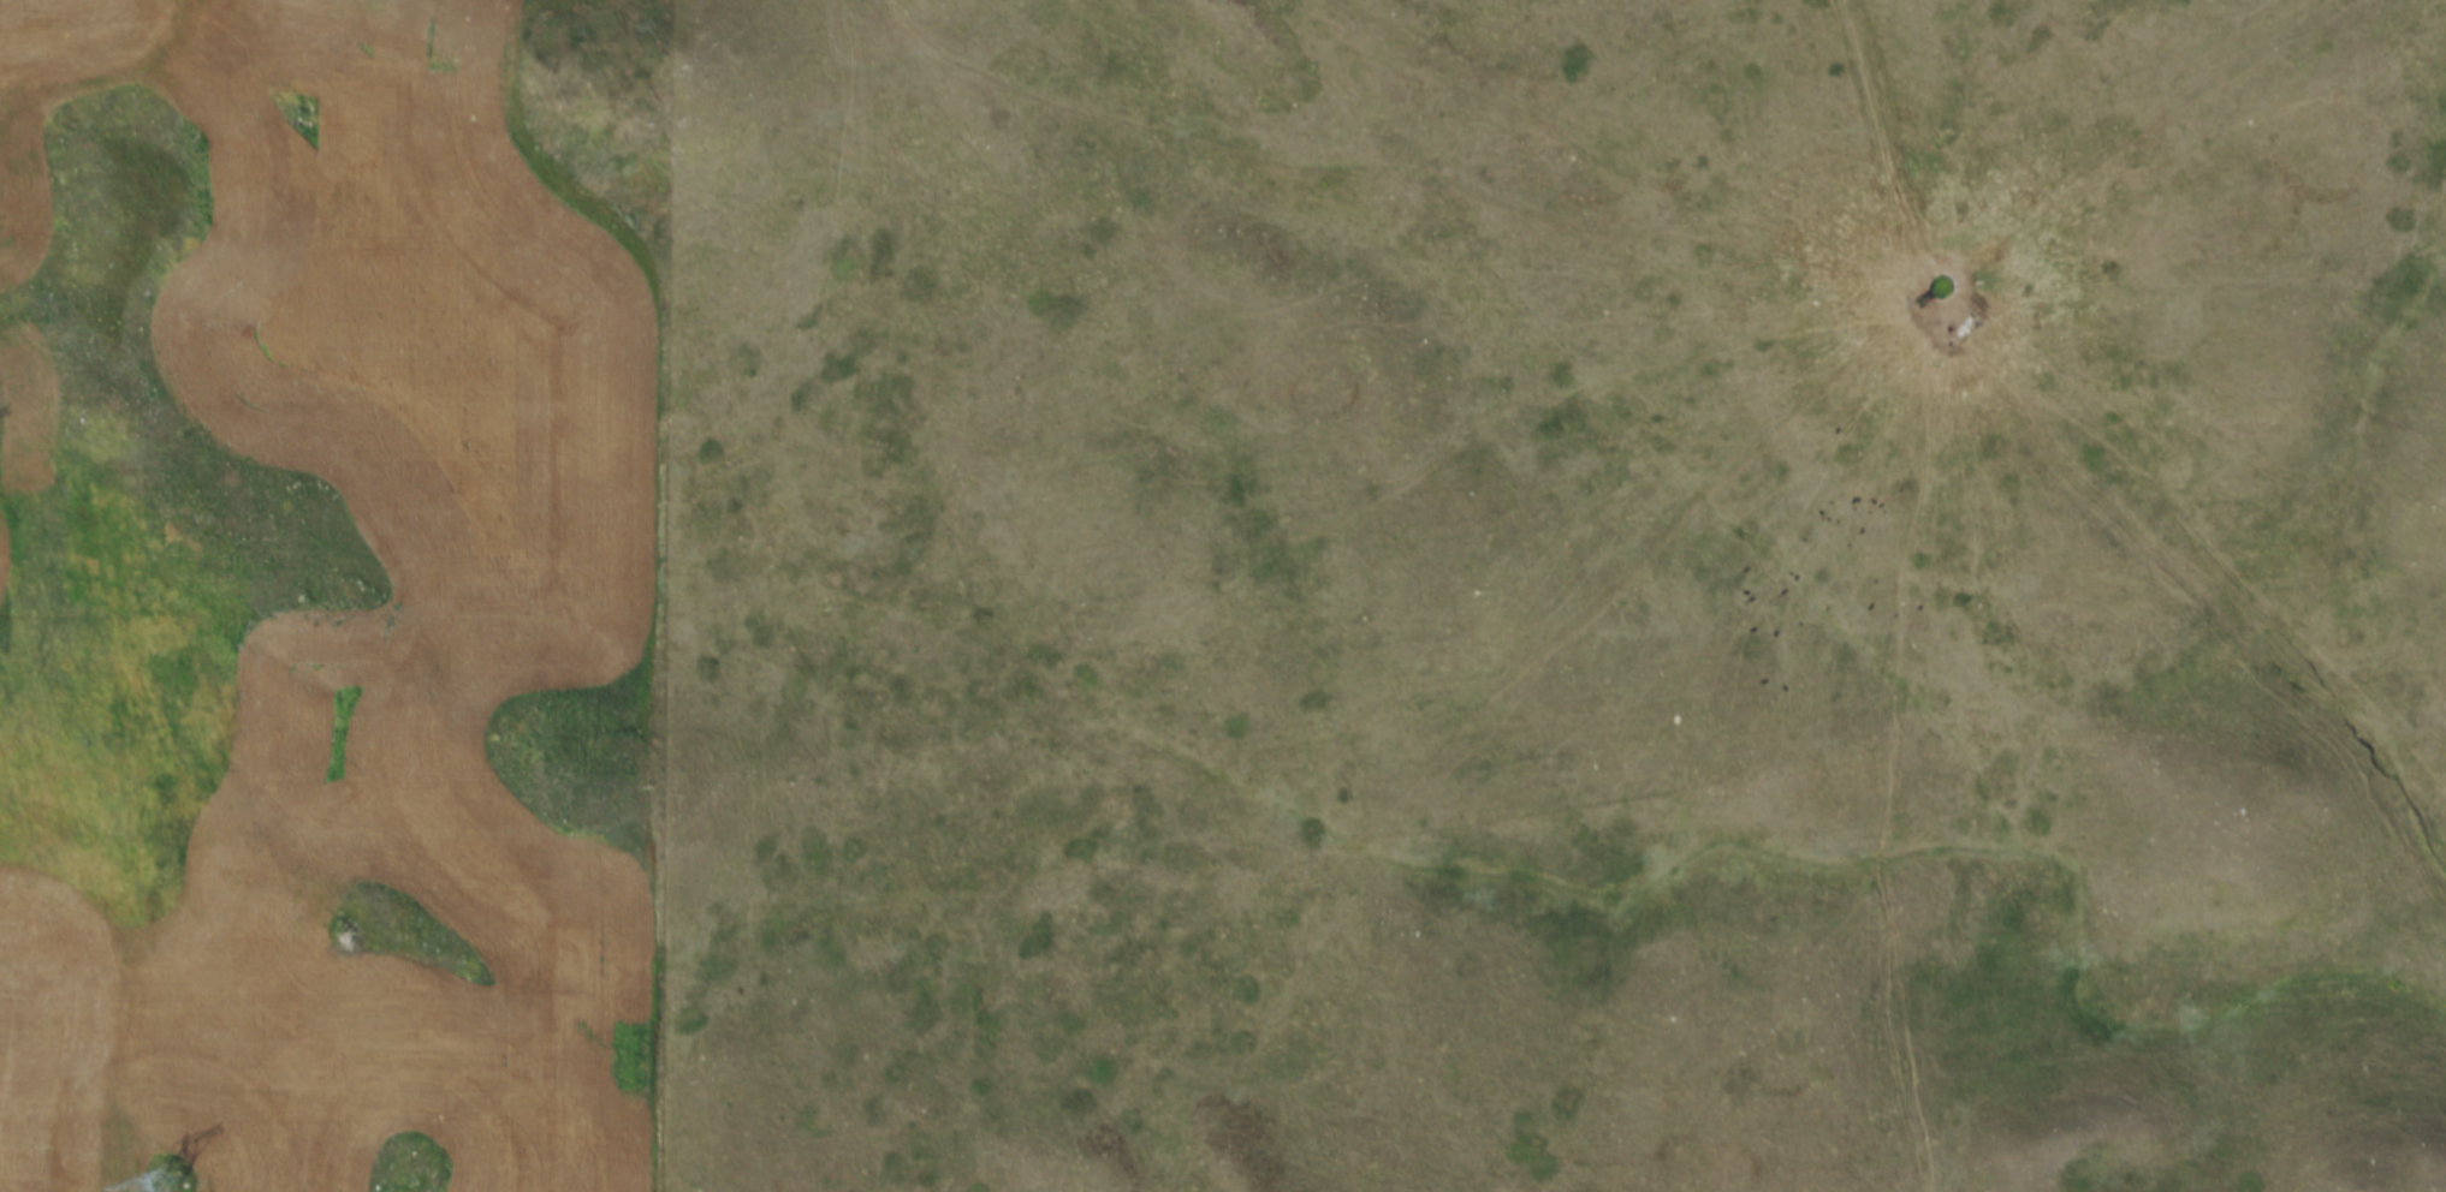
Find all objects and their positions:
road: (1555, 221)
power tower: (172, 1191)

